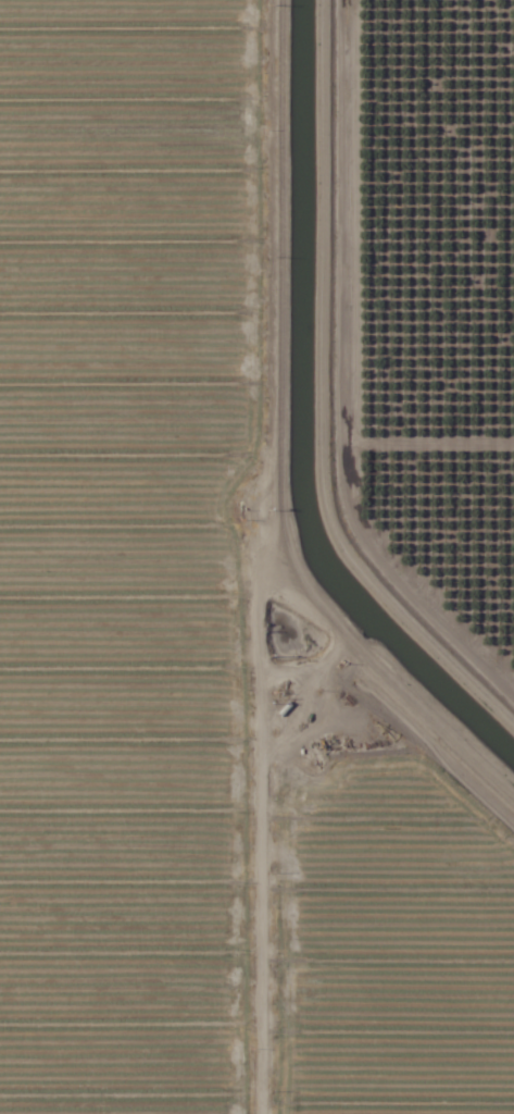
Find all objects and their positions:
road: (321, 396)
crop: (256, 557)
road: (249, 562)
building: (507, 583)
road: (289, 964)

